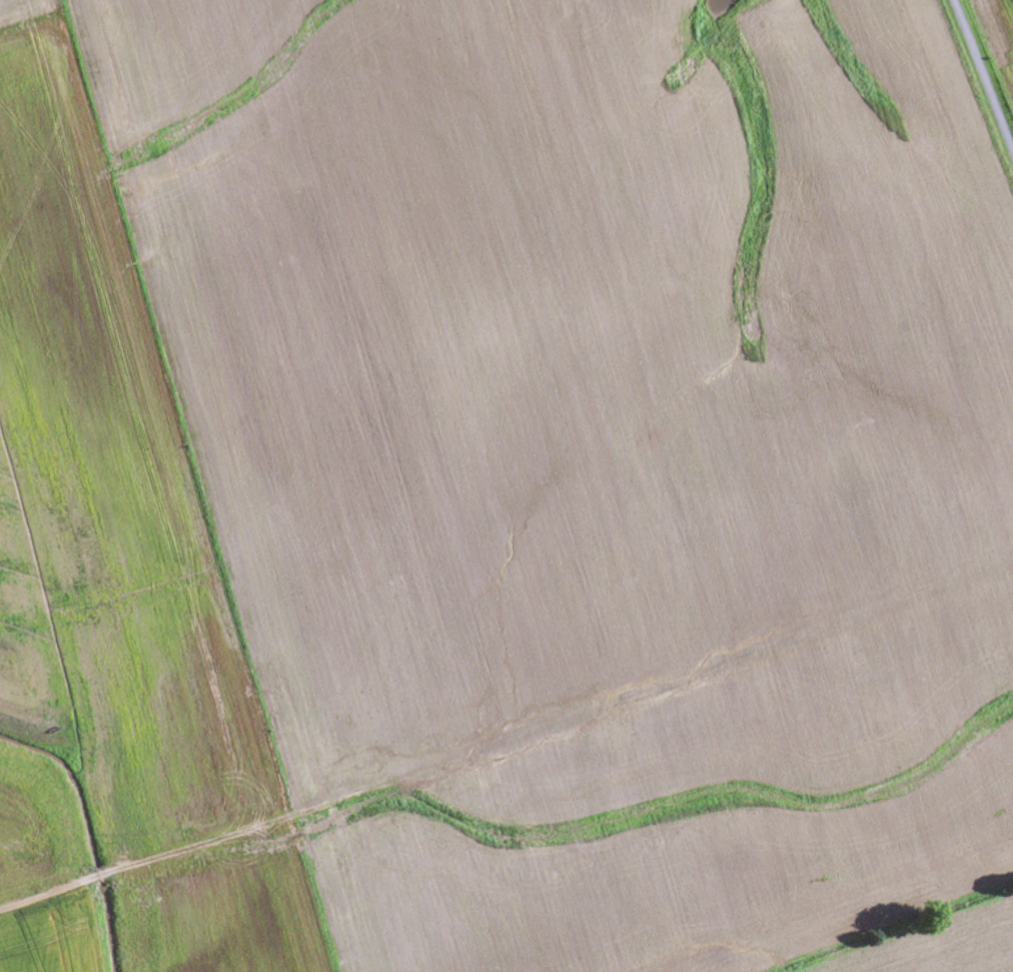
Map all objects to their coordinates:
road: (982, 78)

